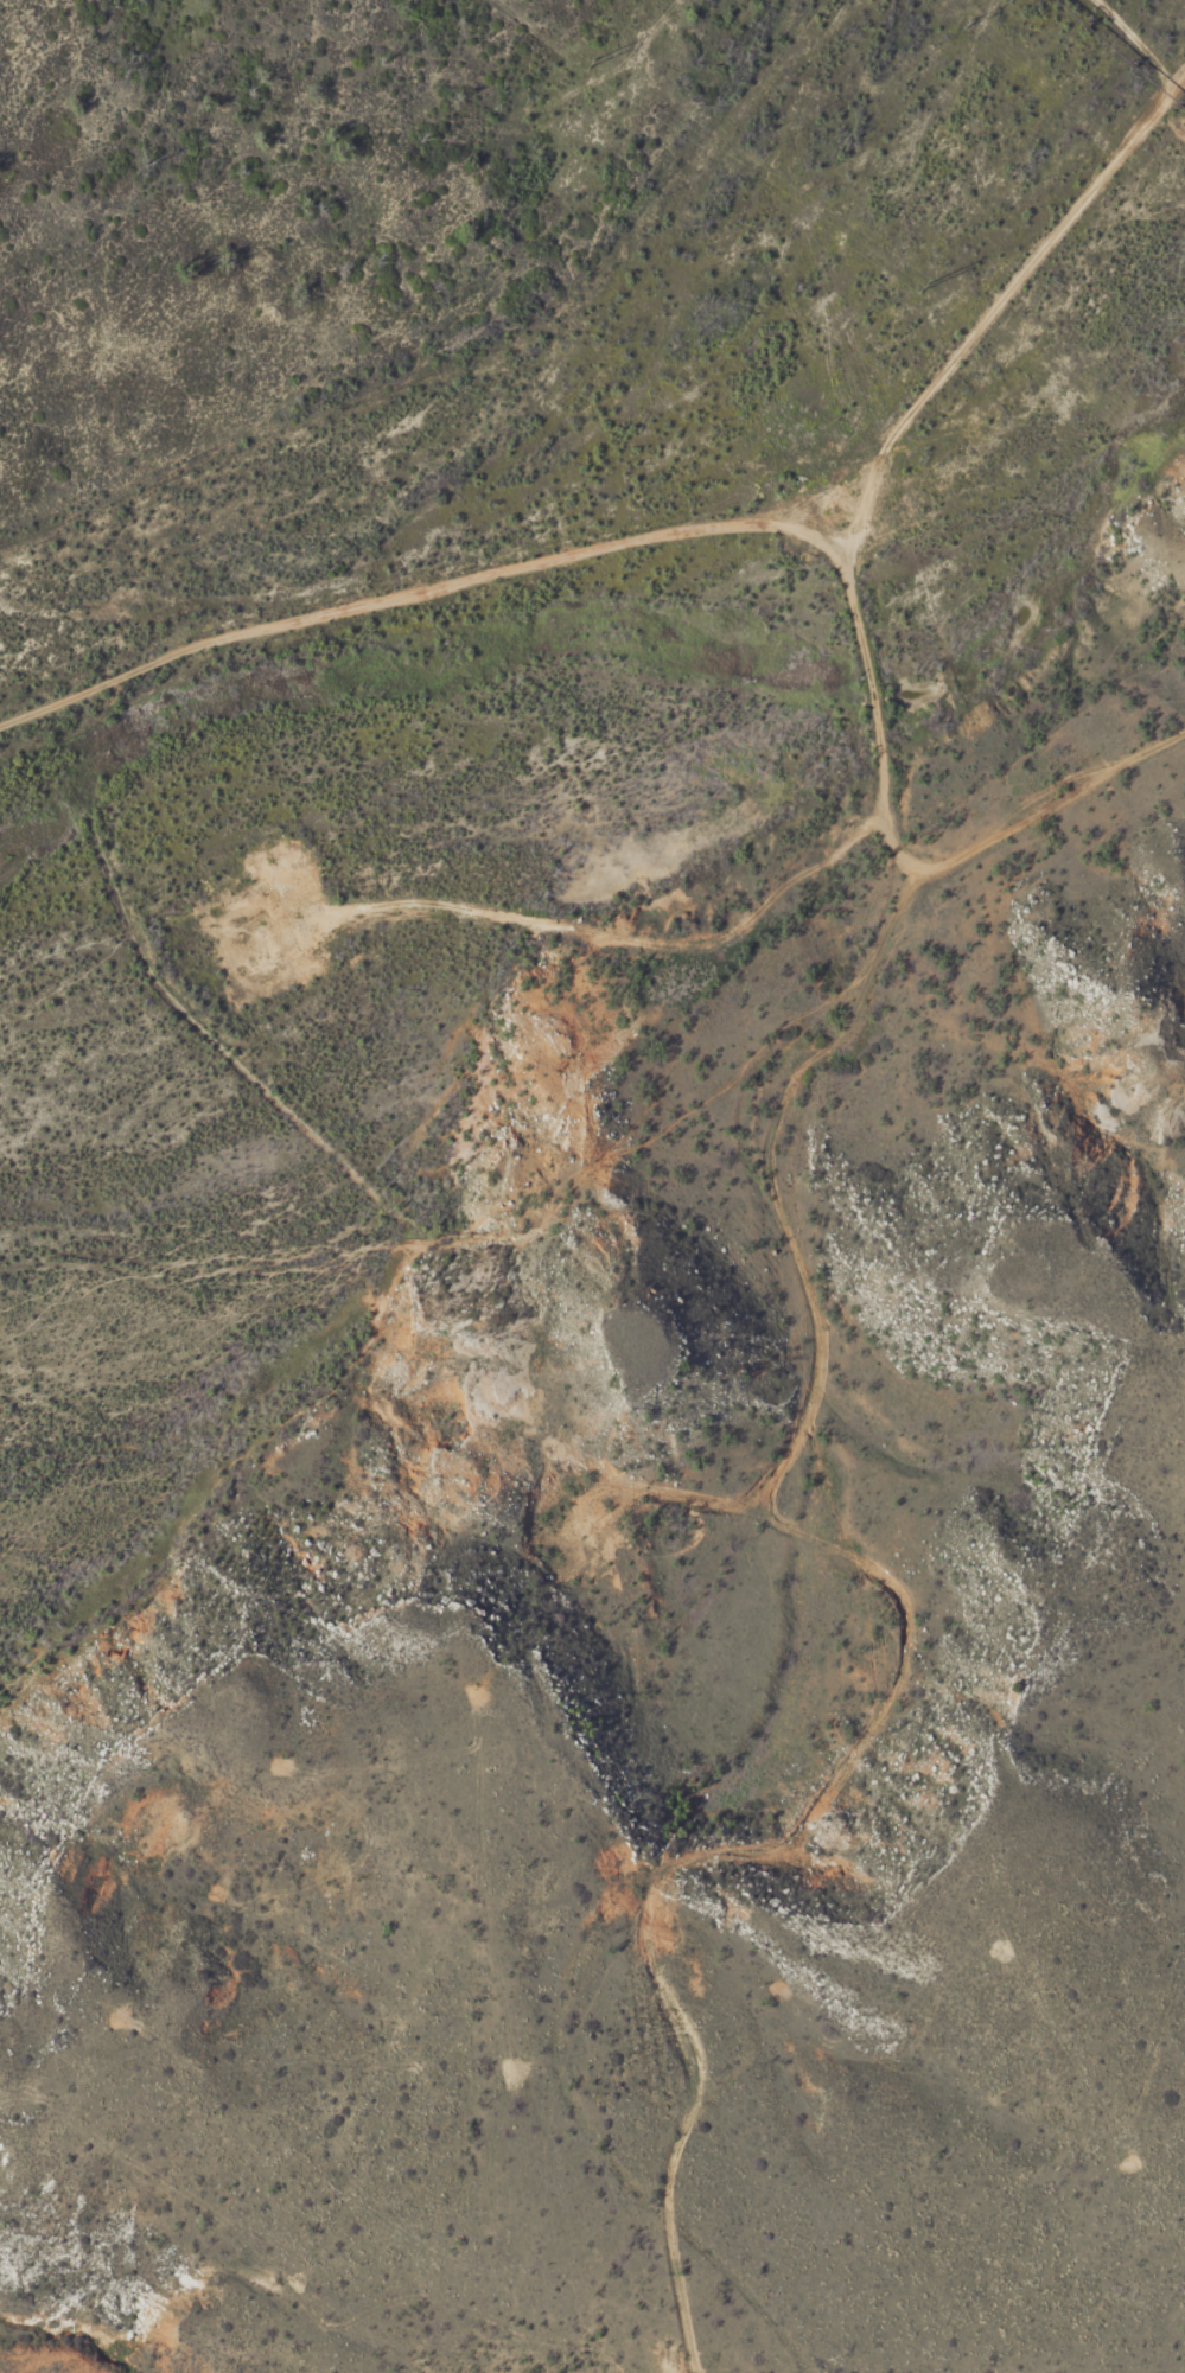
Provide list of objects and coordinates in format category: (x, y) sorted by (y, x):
power tower: (592, 62)
power tower: (924, 288)
river: (632, 653)

